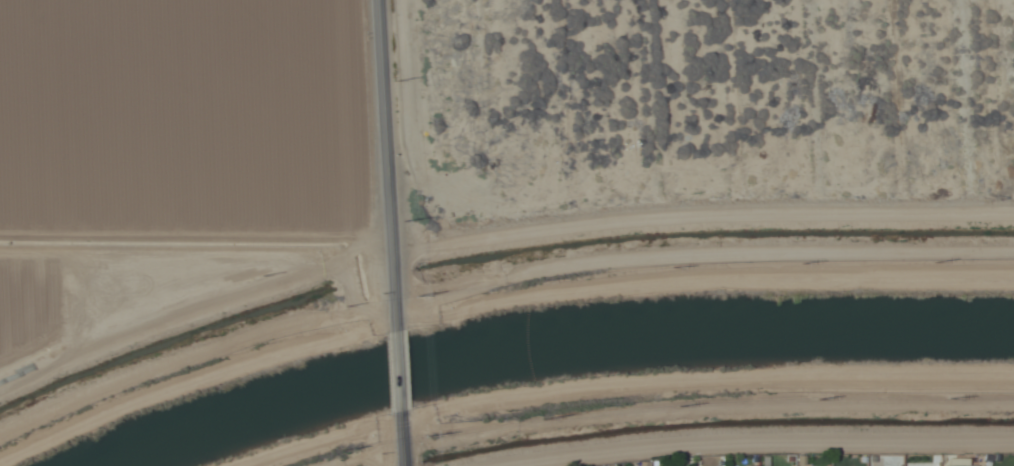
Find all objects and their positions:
road: (394, 166)
road: (506, 280)
road: (397, 372)
road: (400, 439)

